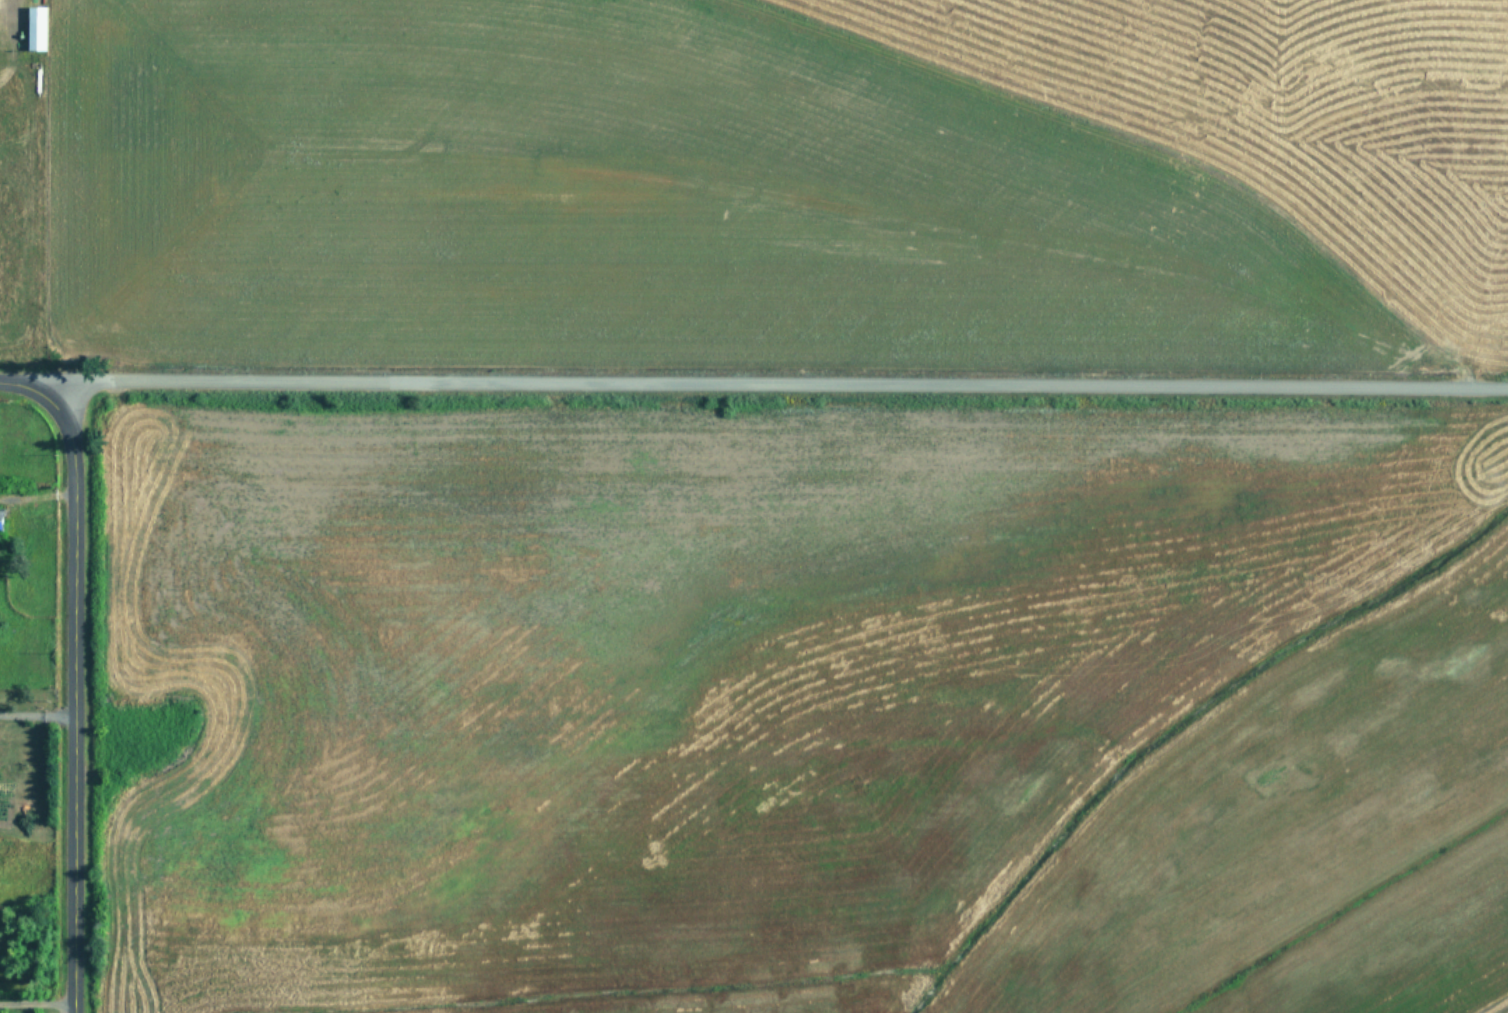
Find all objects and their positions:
building: (34, 27)
crop: (794, 194)
crop: (14, 230)
road: (774, 386)
road: (24, 390)
road: (72, 704)
crop: (981, 806)
crop: (1401, 941)
road: (37, 1007)

